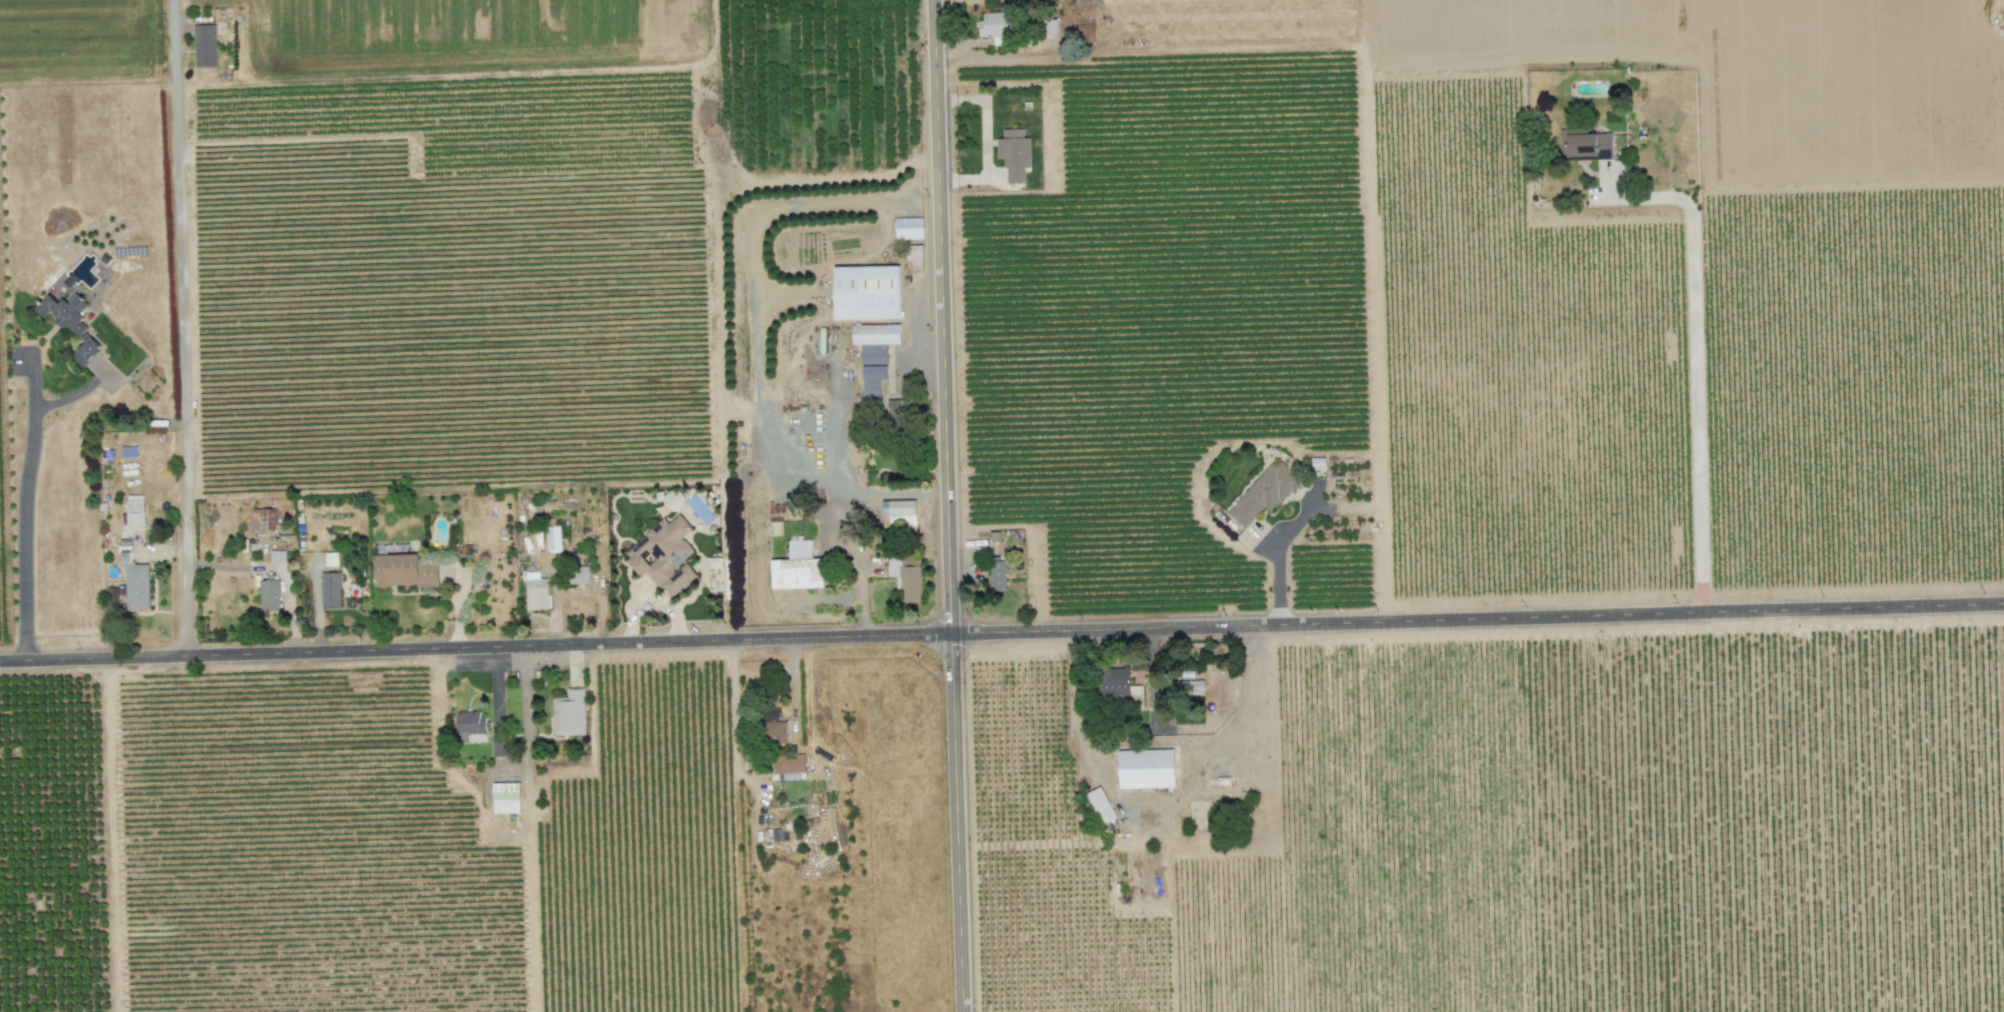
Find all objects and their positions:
building: (996, 25)
building: (1049, 25)
building: (204, 44)
building: (1585, 143)
building: (1014, 153)
building: (909, 227)
building: (867, 291)
building: (71, 322)
road: (182, 327)
building: (876, 340)
road: (1693, 365)
building: (873, 380)
building: (896, 408)
road: (890, 493)
building: (1264, 493)
road: (837, 501)
building: (687, 504)
road: (944, 506)
road: (25, 509)
building: (135, 511)
building: (900, 511)
building: (553, 537)
road: (1271, 554)
building: (277, 555)
building: (664, 555)
building: (331, 558)
building: (714, 562)
building: (797, 566)
building: (403, 570)
building: (579, 573)
building: (998, 574)
building: (906, 580)
building: (136, 584)
building: (330, 589)
building: (536, 591)
building: (269, 594)
road: (1001, 630)
building: (1116, 682)
building: (569, 712)
building: (471, 723)
road: (526, 725)
building: (775, 732)
road: (1160, 743)
building: (498, 746)
building: (790, 765)
building: (1147, 768)
building: (505, 797)
building: (1100, 805)

